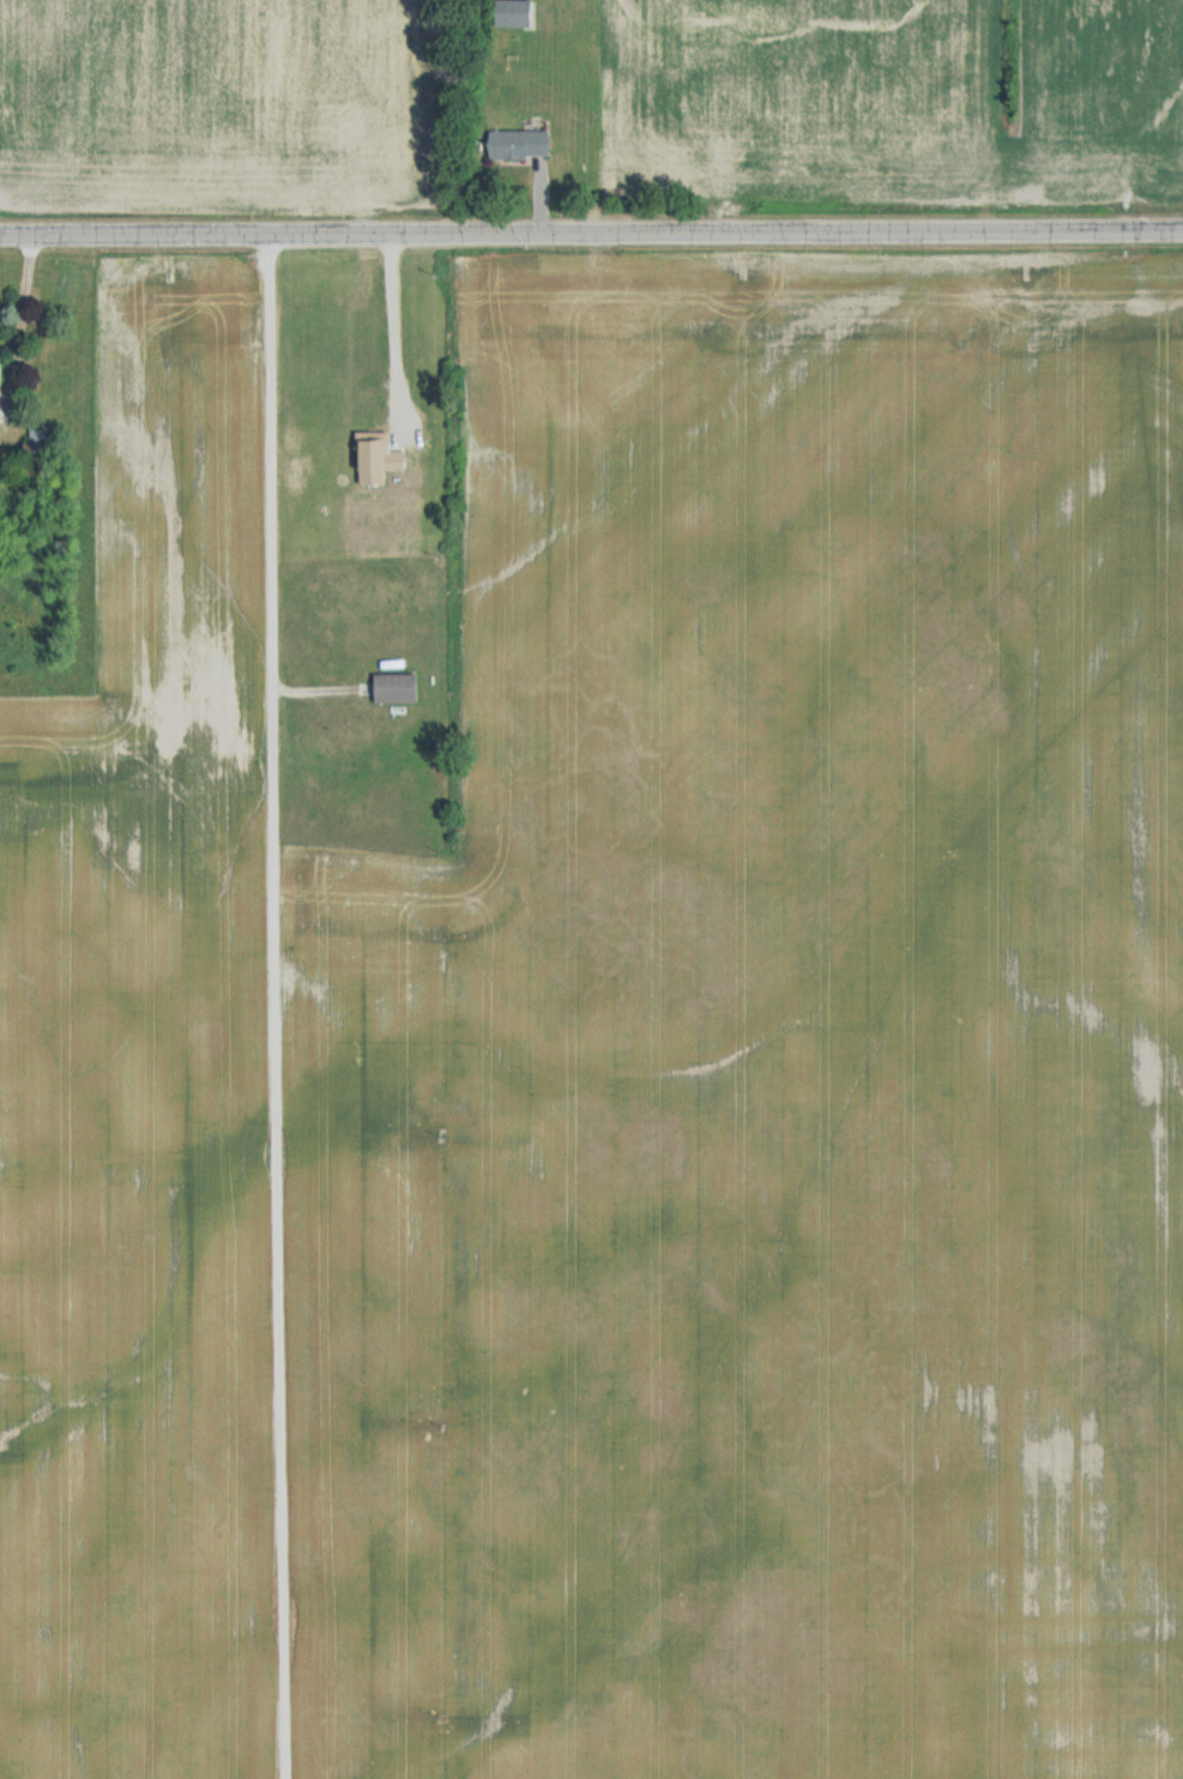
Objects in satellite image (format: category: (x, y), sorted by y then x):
building: (517, 13)
crop: (591, 111)
building: (521, 145)
road: (591, 230)
road: (387, 321)
building: (1, 374)
building: (380, 459)
building: (398, 689)

